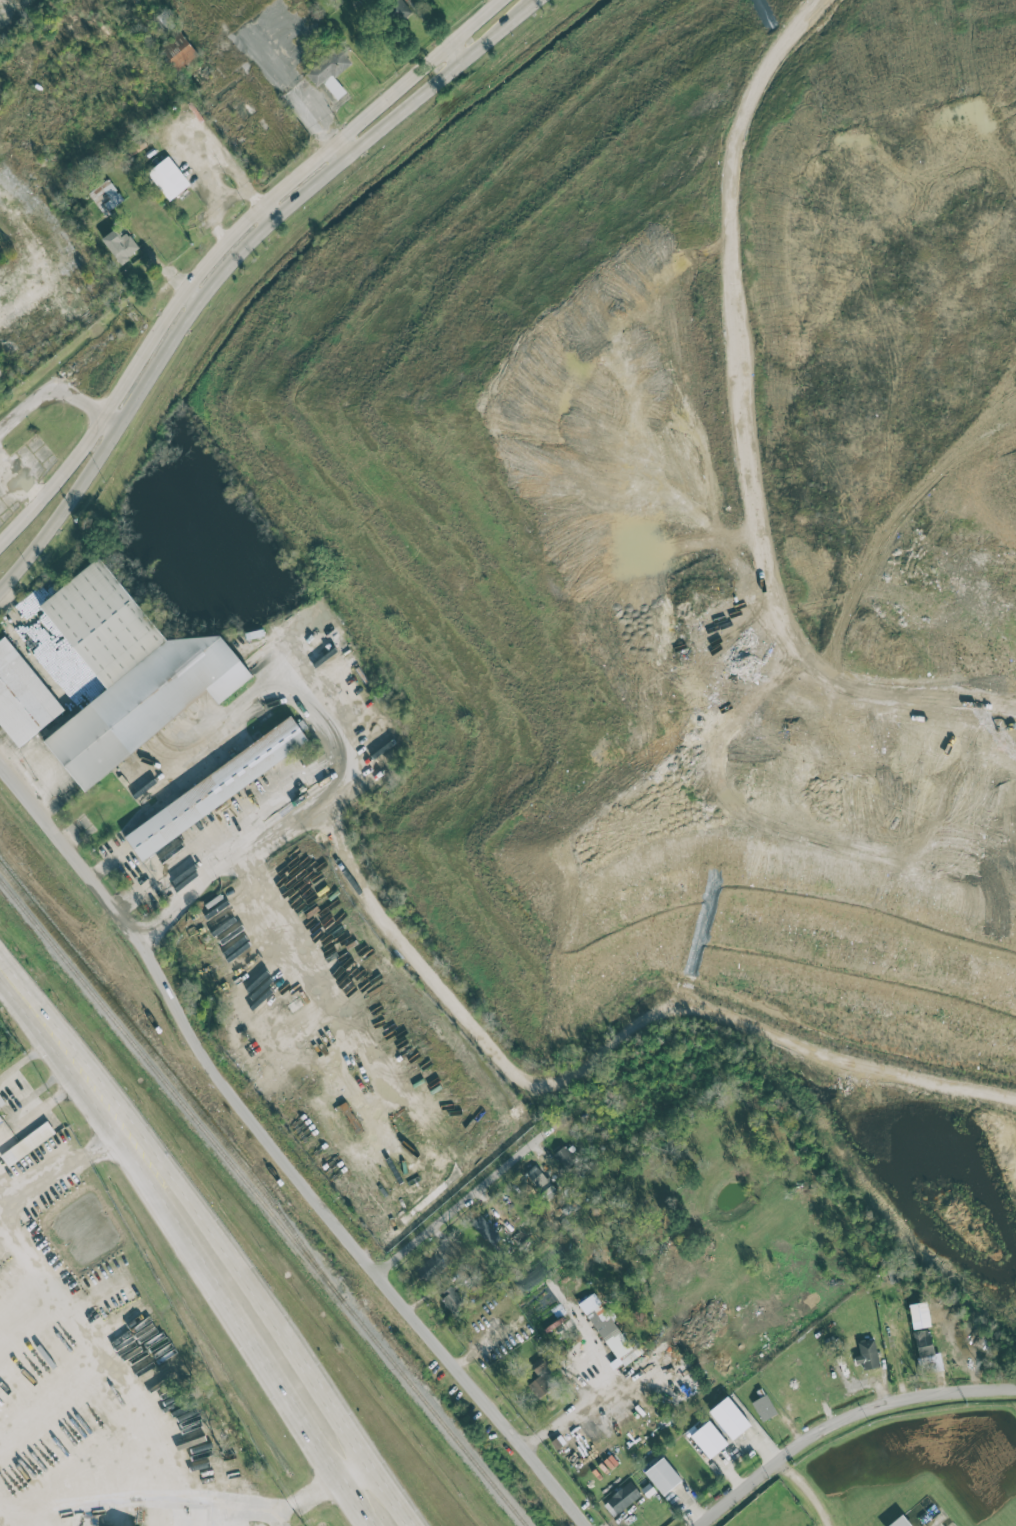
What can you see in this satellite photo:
building: (178, 52)
building: (330, 71)
road: (413, 71)
road: (440, 78)
road: (292, 87)
road: (336, 151)
building: (168, 178)
building: (106, 197)
road: (223, 200)
road: (274, 209)
building: (120, 245)
road: (201, 267)
road: (216, 279)
road: (190, 298)
road: (50, 385)
road: (739, 390)
road: (81, 403)
road: (52, 479)
road: (62, 508)
landfill: (682, 512)
building: (129, 672)
building: (22, 697)
road: (342, 756)
building: (215, 788)
road: (235, 869)
road: (463, 1011)
road: (45, 1017)
road: (791, 1054)
road: (29, 1058)
railway: (164, 1067)
road: (14, 1106)
road: (45, 1108)
building: (1, 1121)
building: (27, 1143)
road: (280, 1155)
building: (564, 1156)
road: (55, 1179)
building: (540, 1180)
road: (139, 1187)
road: (461, 1202)
railway: (262, 1204)
road: (194, 1218)
building: (485, 1230)
building: (431, 1266)
building: (451, 1299)
building: (919, 1315)
building: (612, 1334)
building: (926, 1351)
building: (867, 1354)
building: (544, 1377)
road: (588, 1404)
building: (764, 1407)
road: (282, 1414)
road: (331, 1416)
building: (729, 1417)
road: (840, 1423)
road: (135, 1424)
building: (708, 1439)
building: (662, 1476)
road: (347, 1477)
road: (801, 1491)
road: (386, 1495)
building: (621, 1499)
road: (4, 1514)
building: (900, 1522)

